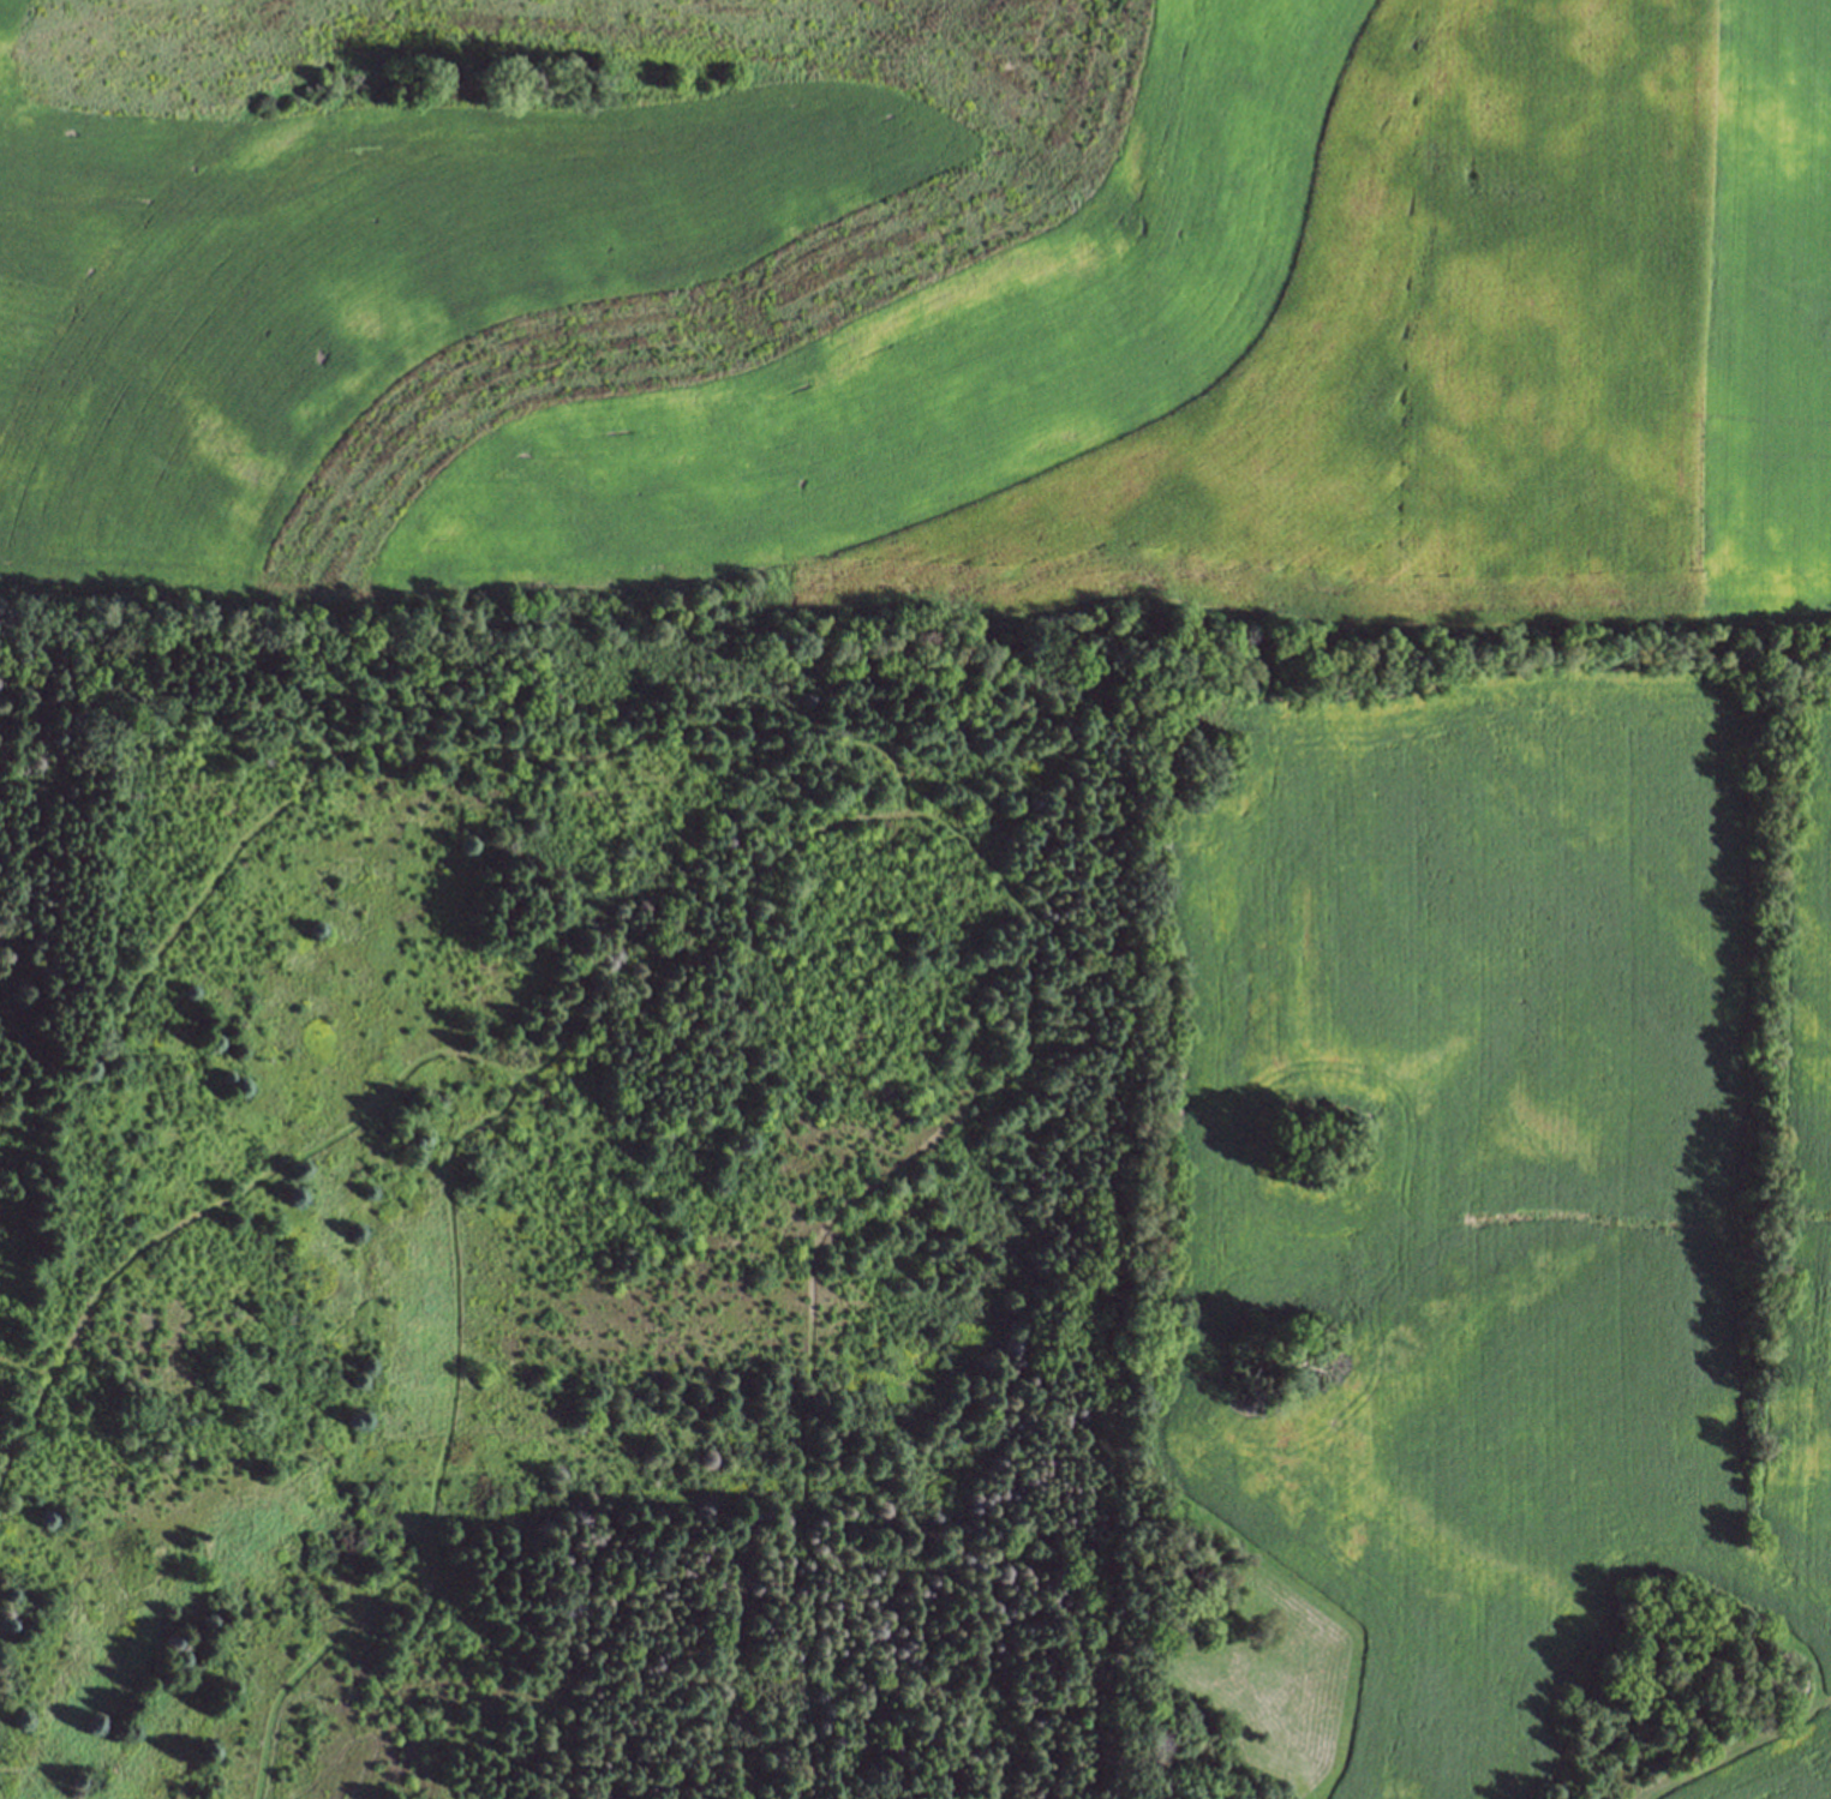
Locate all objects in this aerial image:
crop: (1507, 1043)

